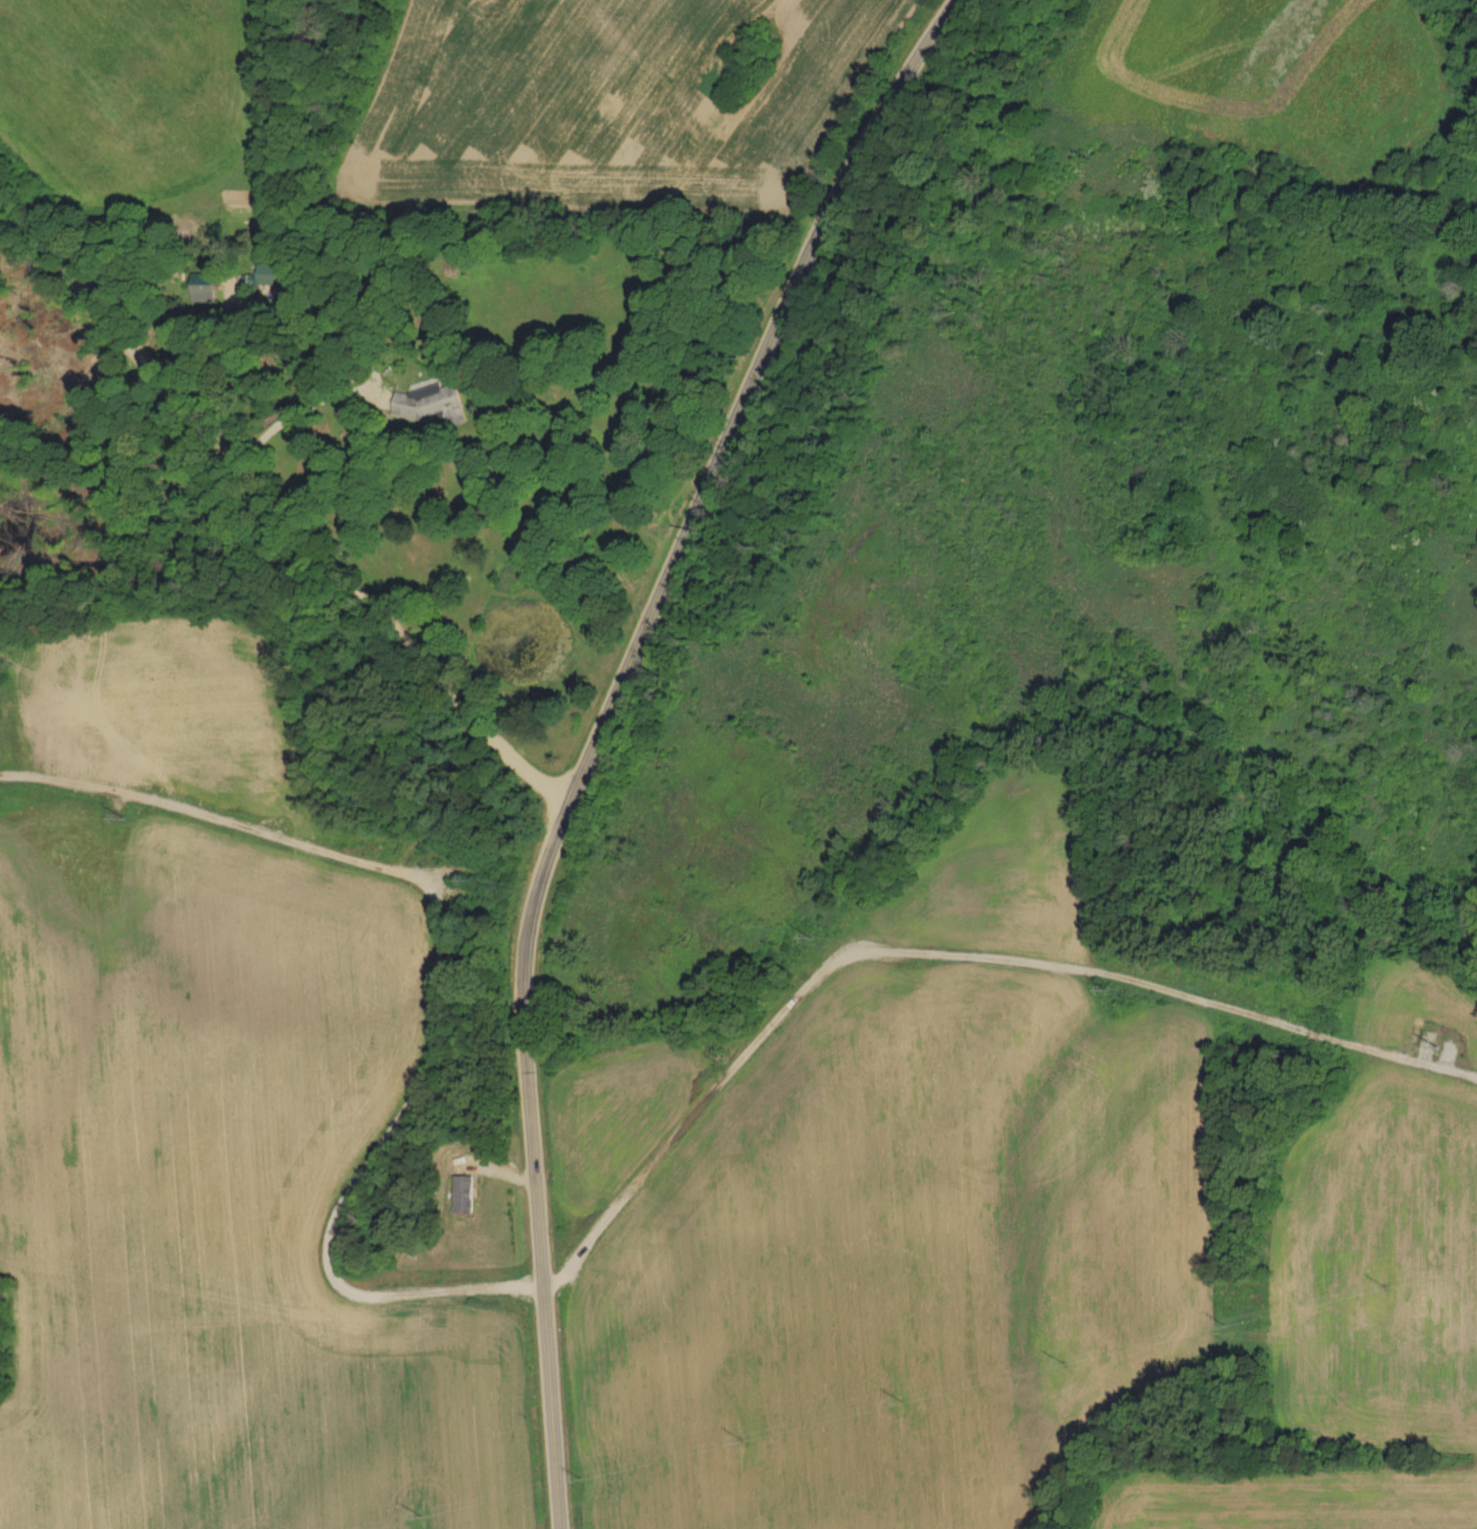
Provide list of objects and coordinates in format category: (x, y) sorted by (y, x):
building: (273, 273)
building: (207, 287)
road: (153, 336)
road: (304, 401)
building: (435, 402)
road: (435, 645)
road: (599, 730)
building: (462, 1193)

